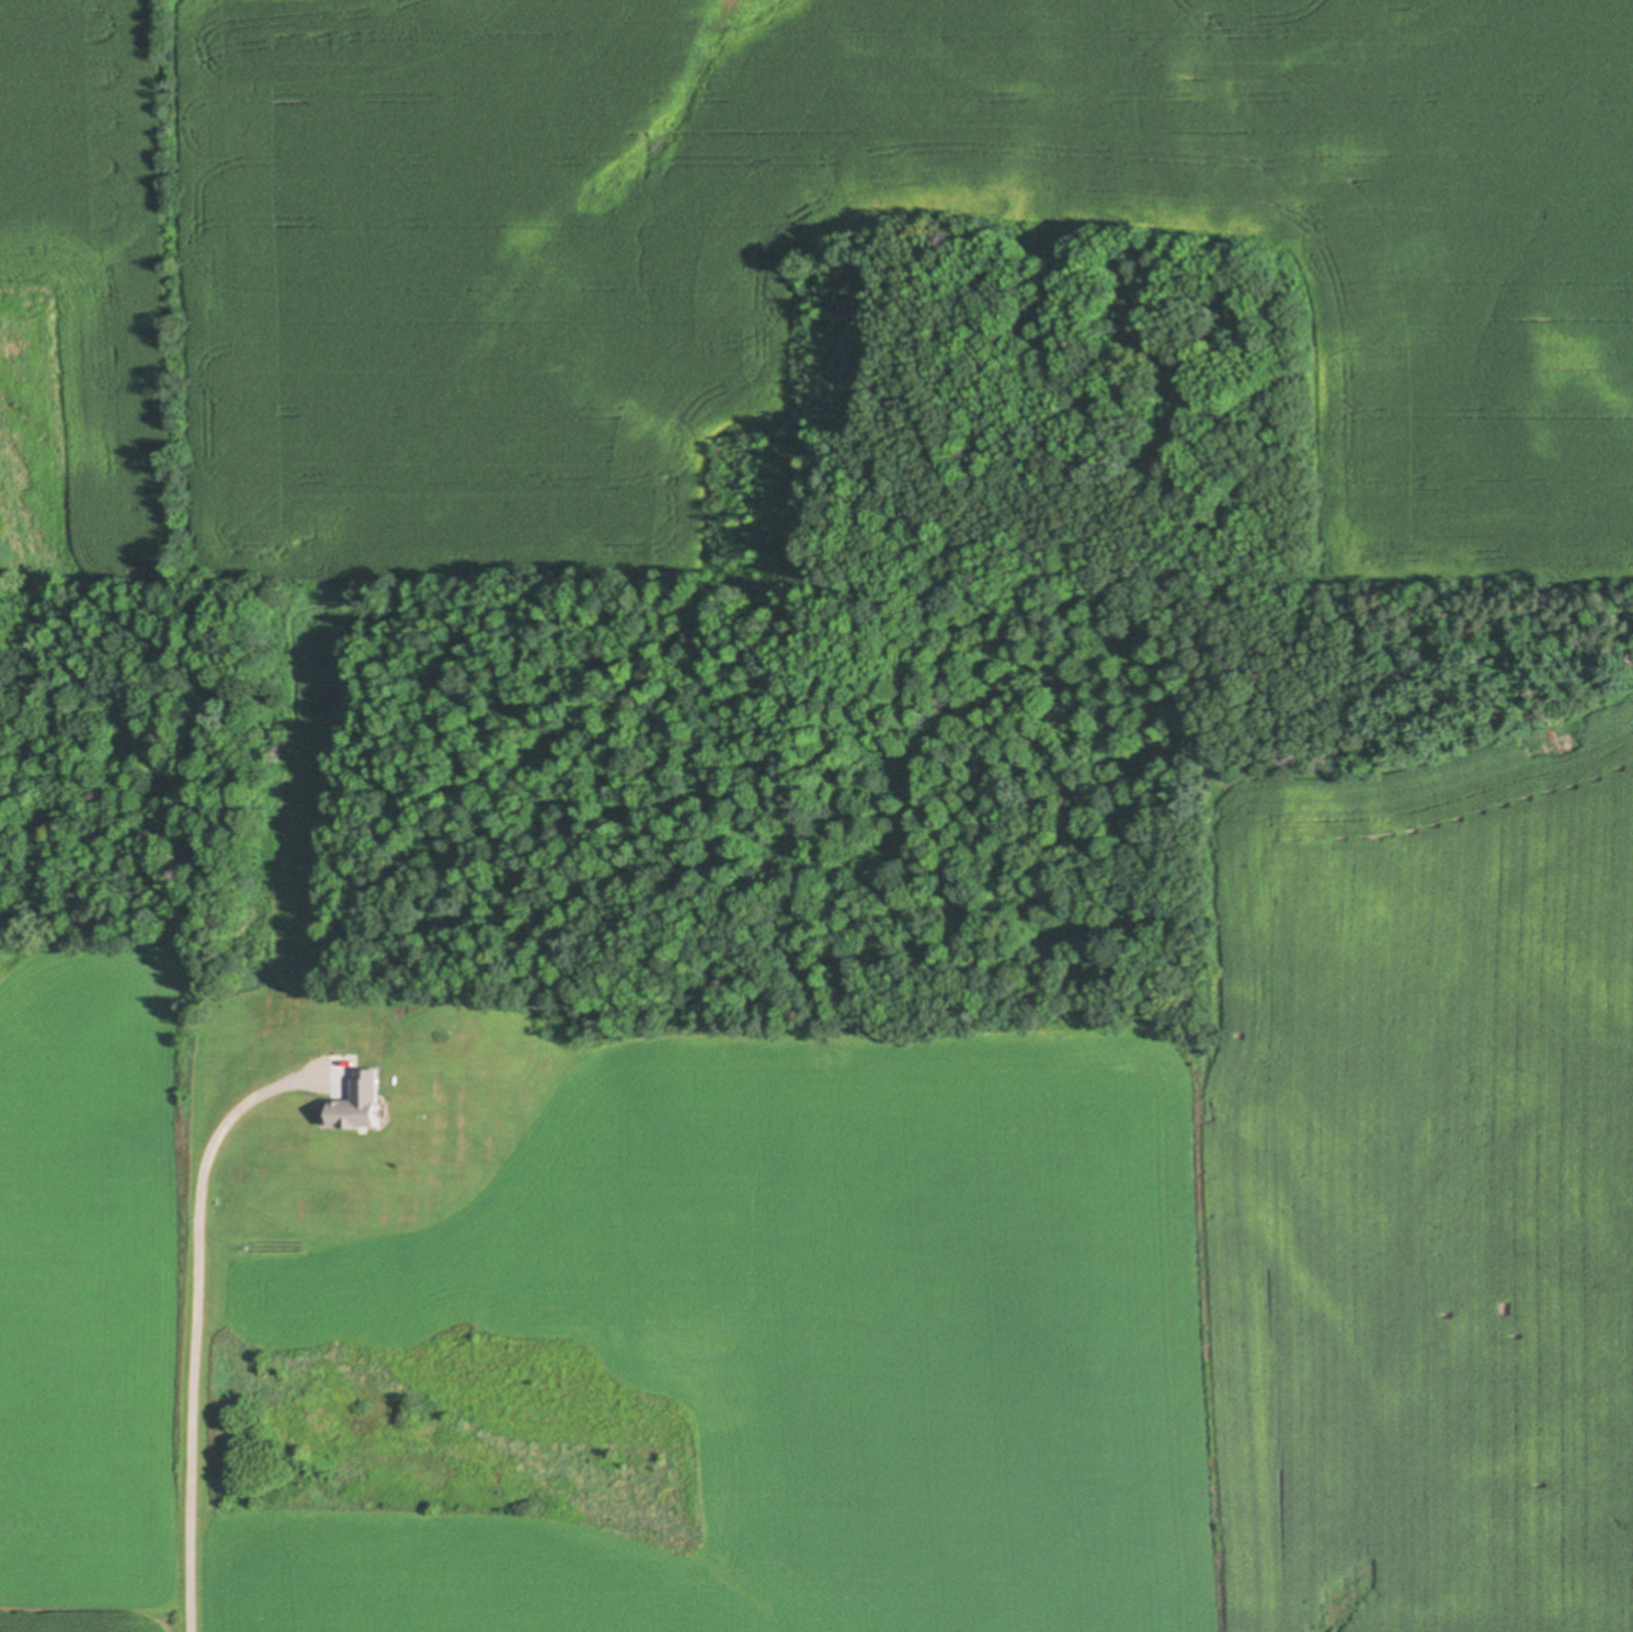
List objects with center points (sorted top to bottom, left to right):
crop: (760, 253)
crop: (905, 1282)
road: (193, 1326)

